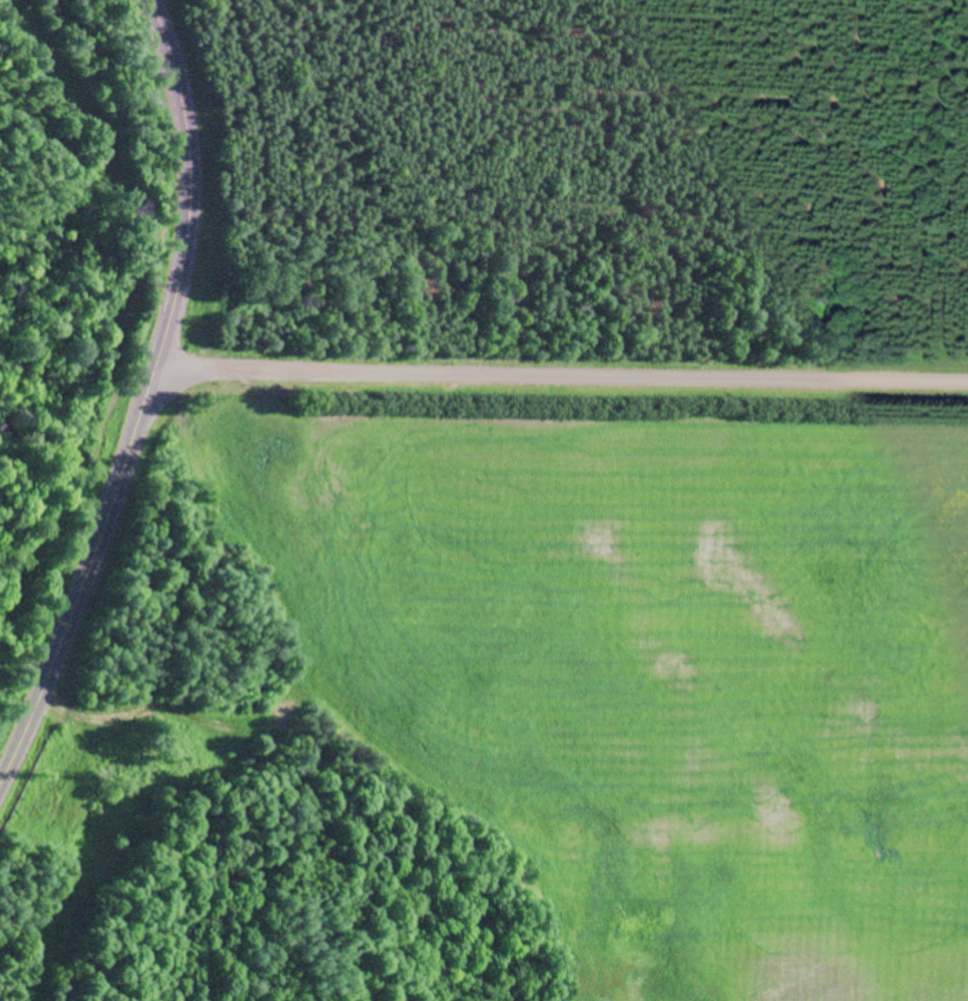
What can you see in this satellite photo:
road: (564, 374)
road: (149, 397)

